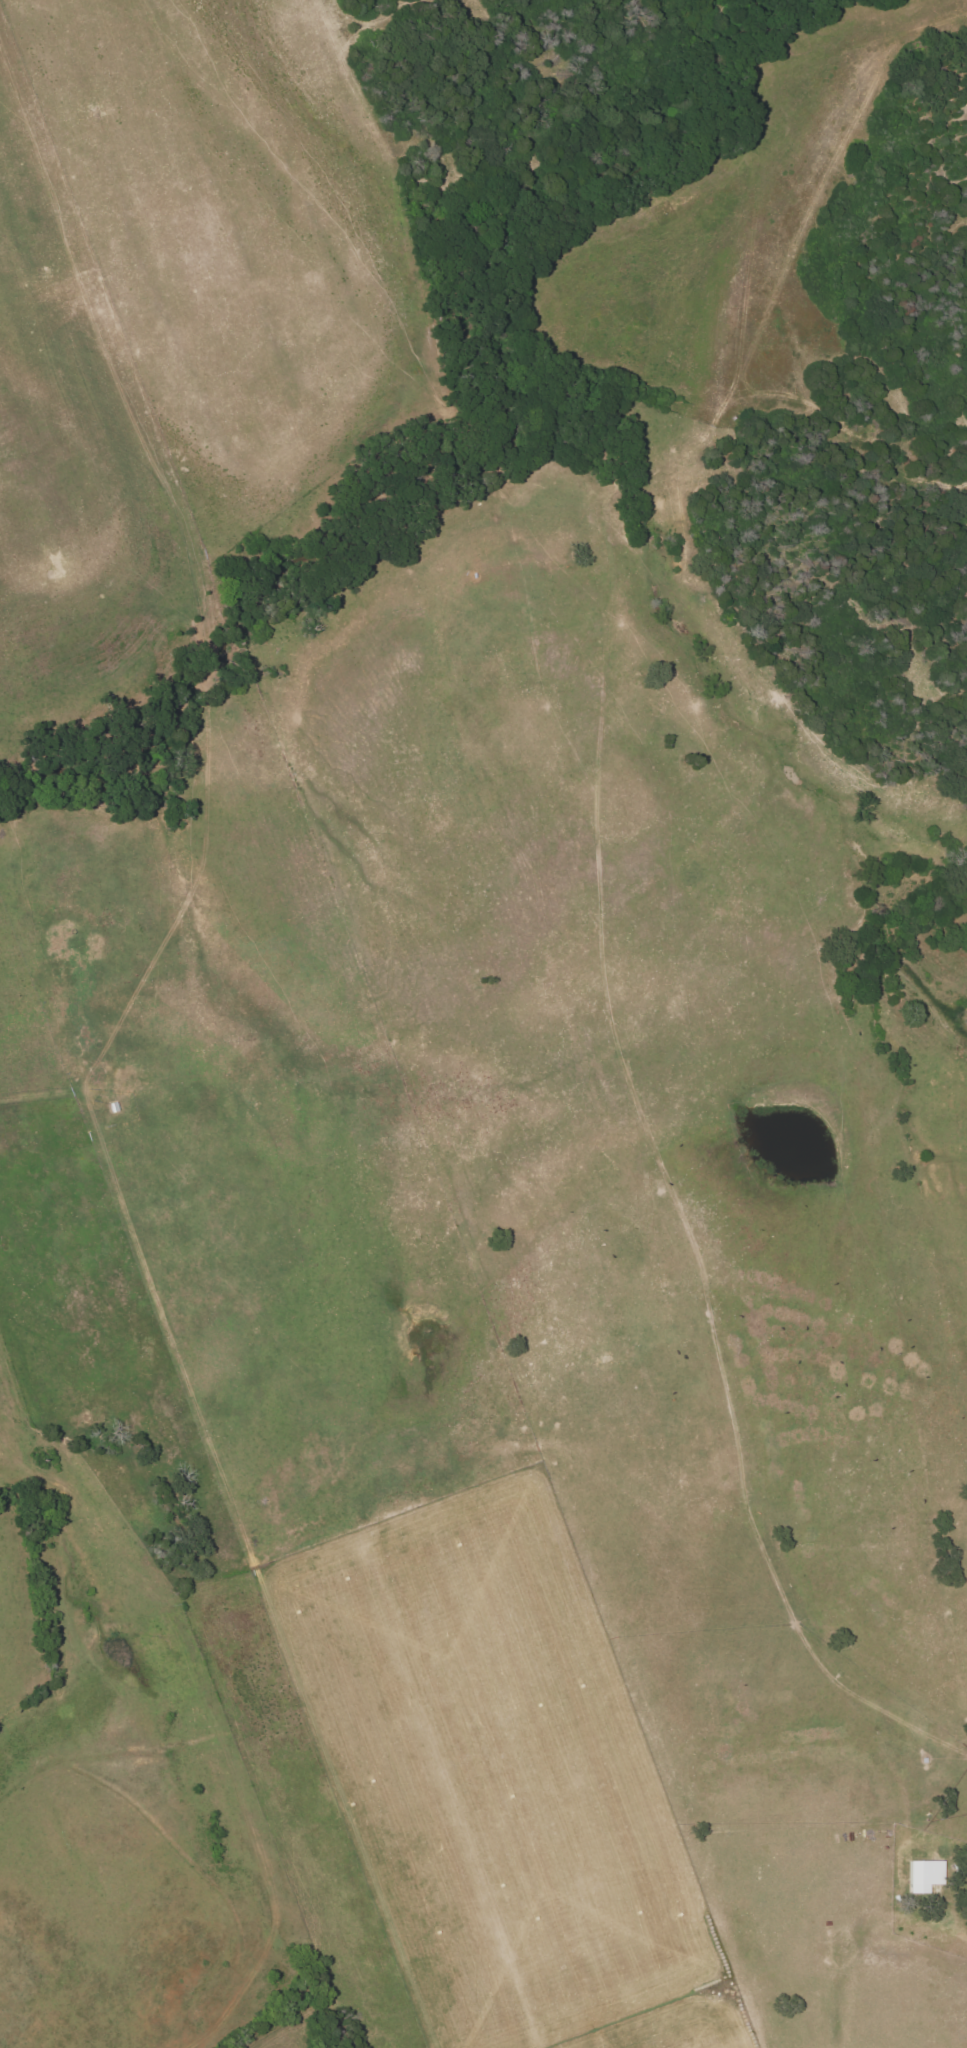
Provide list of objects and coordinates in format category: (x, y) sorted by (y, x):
building: (925, 1875)

